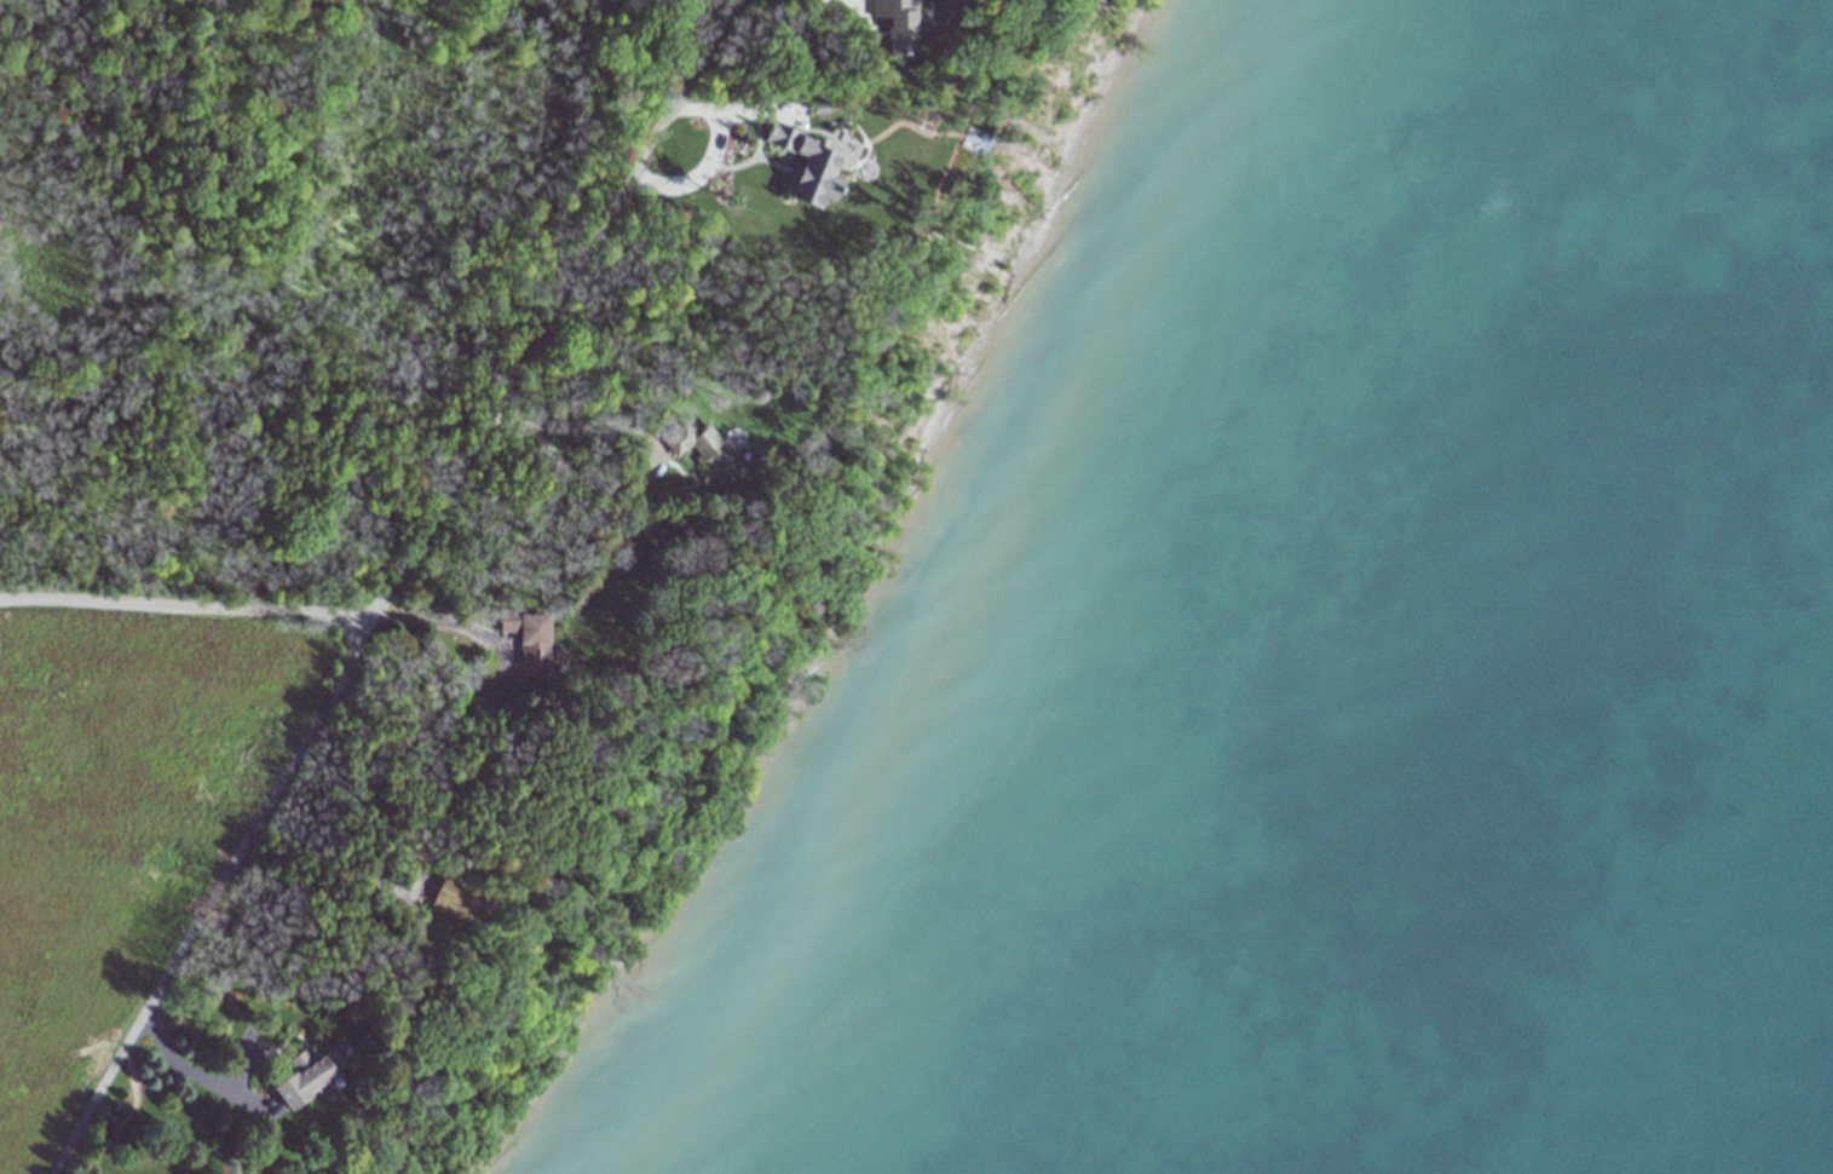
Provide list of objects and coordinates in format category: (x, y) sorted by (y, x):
building: (895, 24)
road: (731, 108)
building: (803, 163)
road: (546, 322)
road: (655, 451)
road: (448, 625)
building: (526, 637)
road: (302, 754)
road: (179, 1063)
building: (300, 1076)

